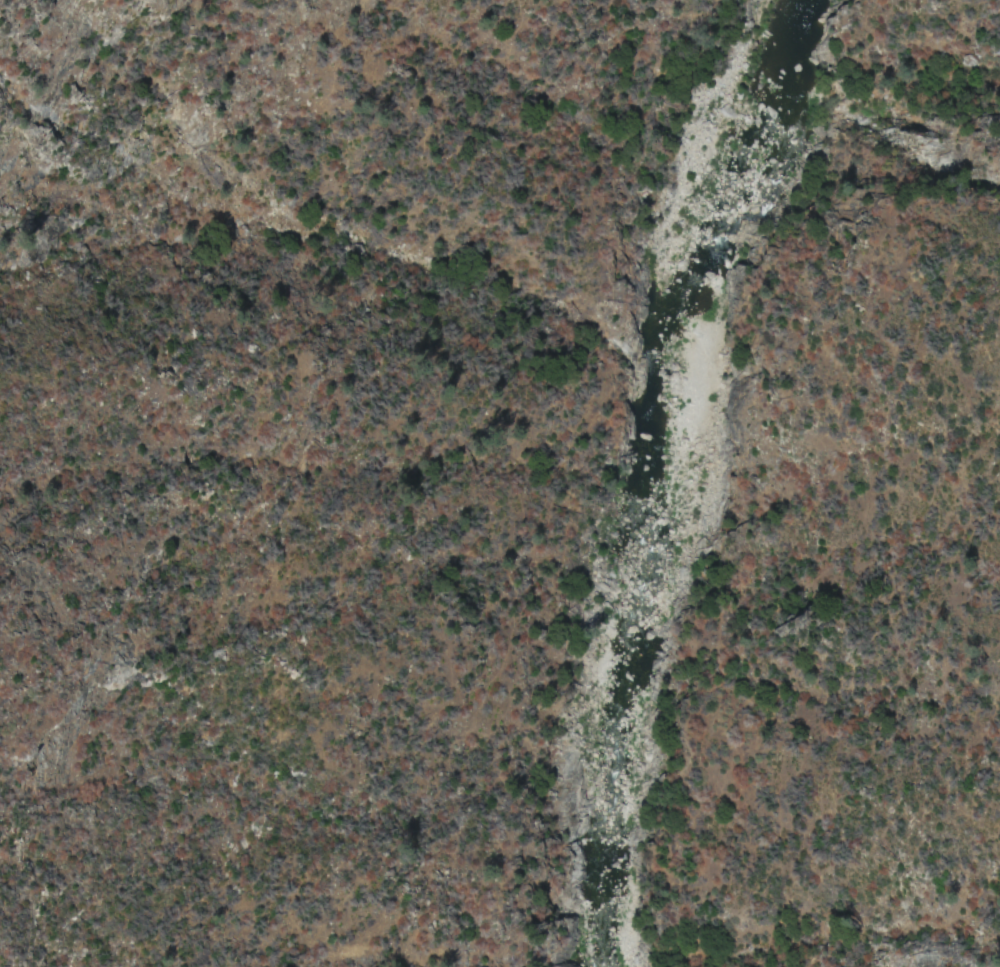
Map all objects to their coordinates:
river: (669, 461)

